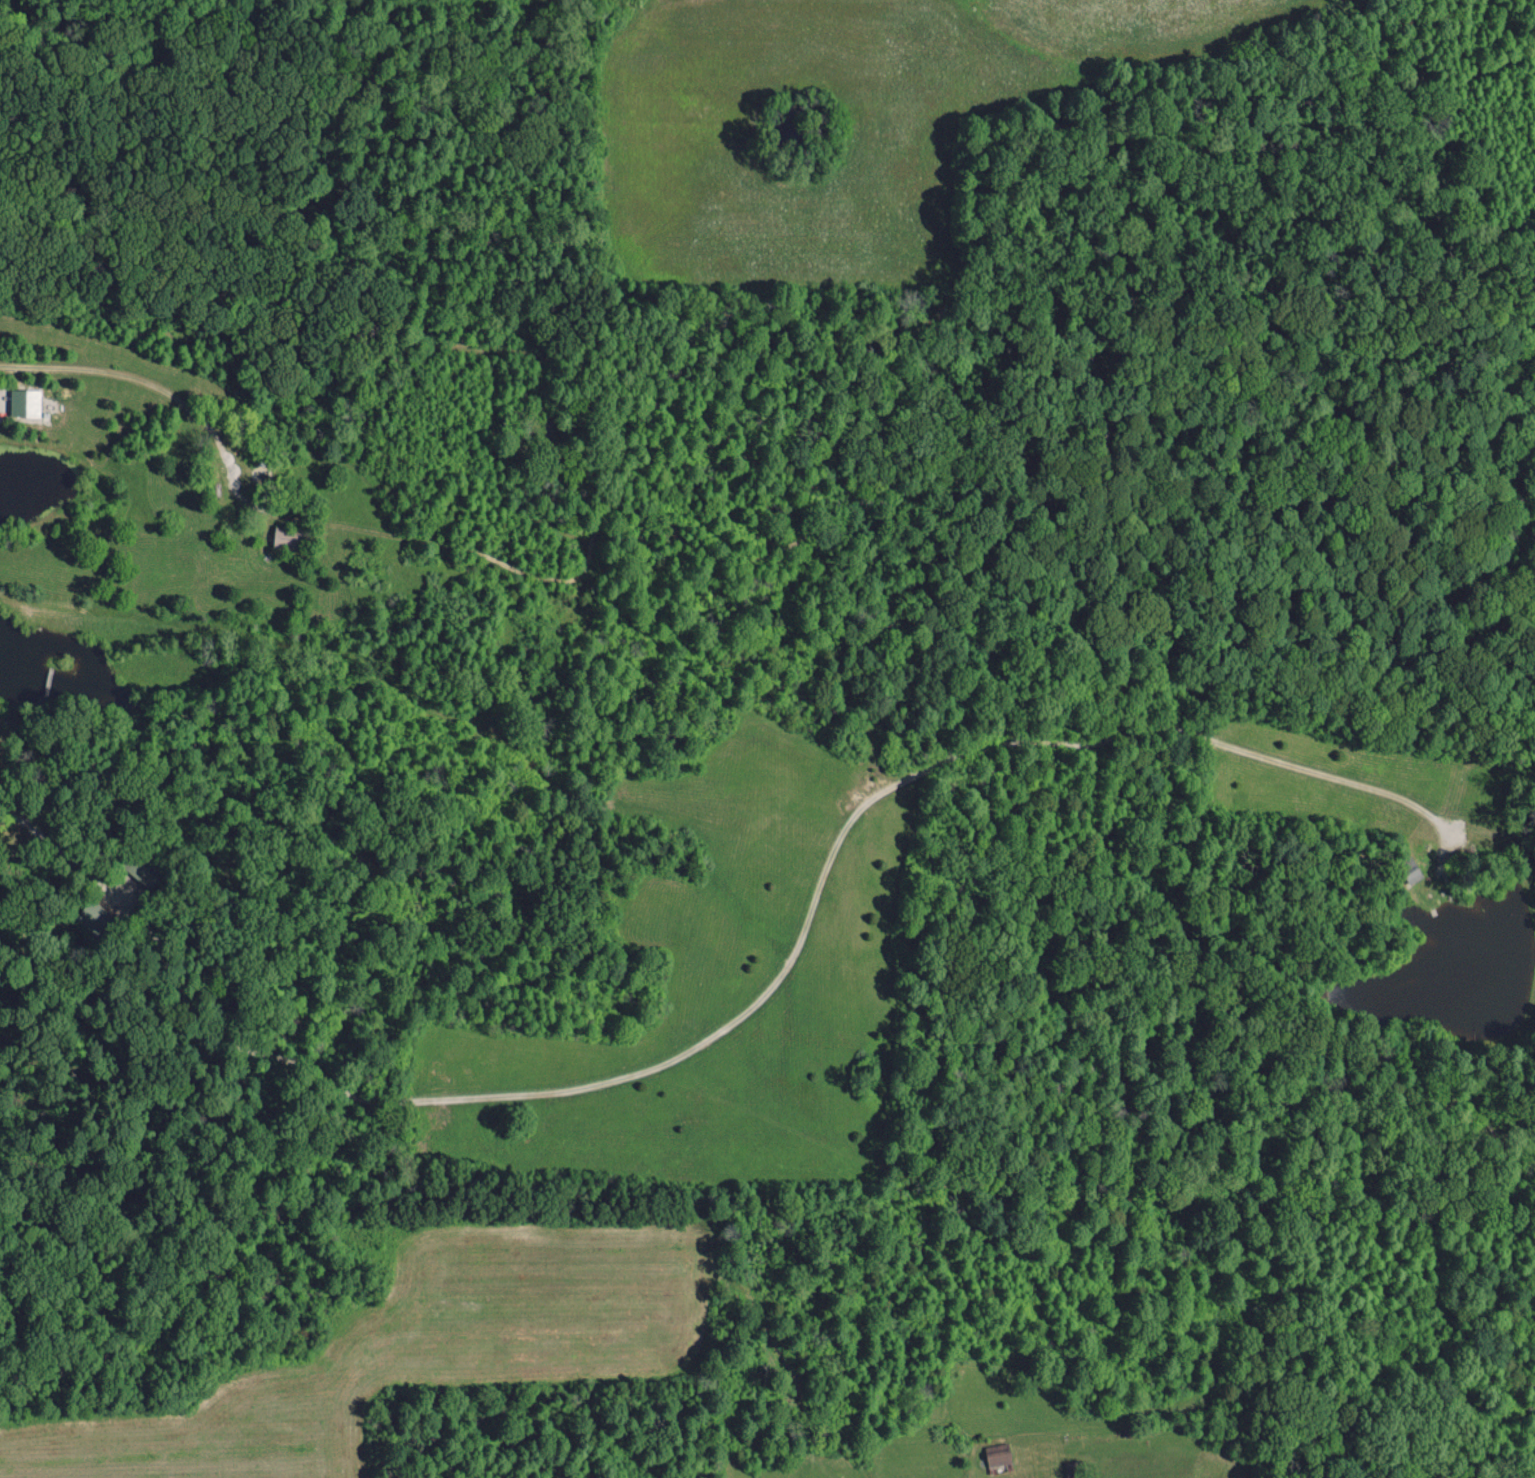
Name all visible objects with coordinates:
building: (24, 403)
building: (997, 1454)

